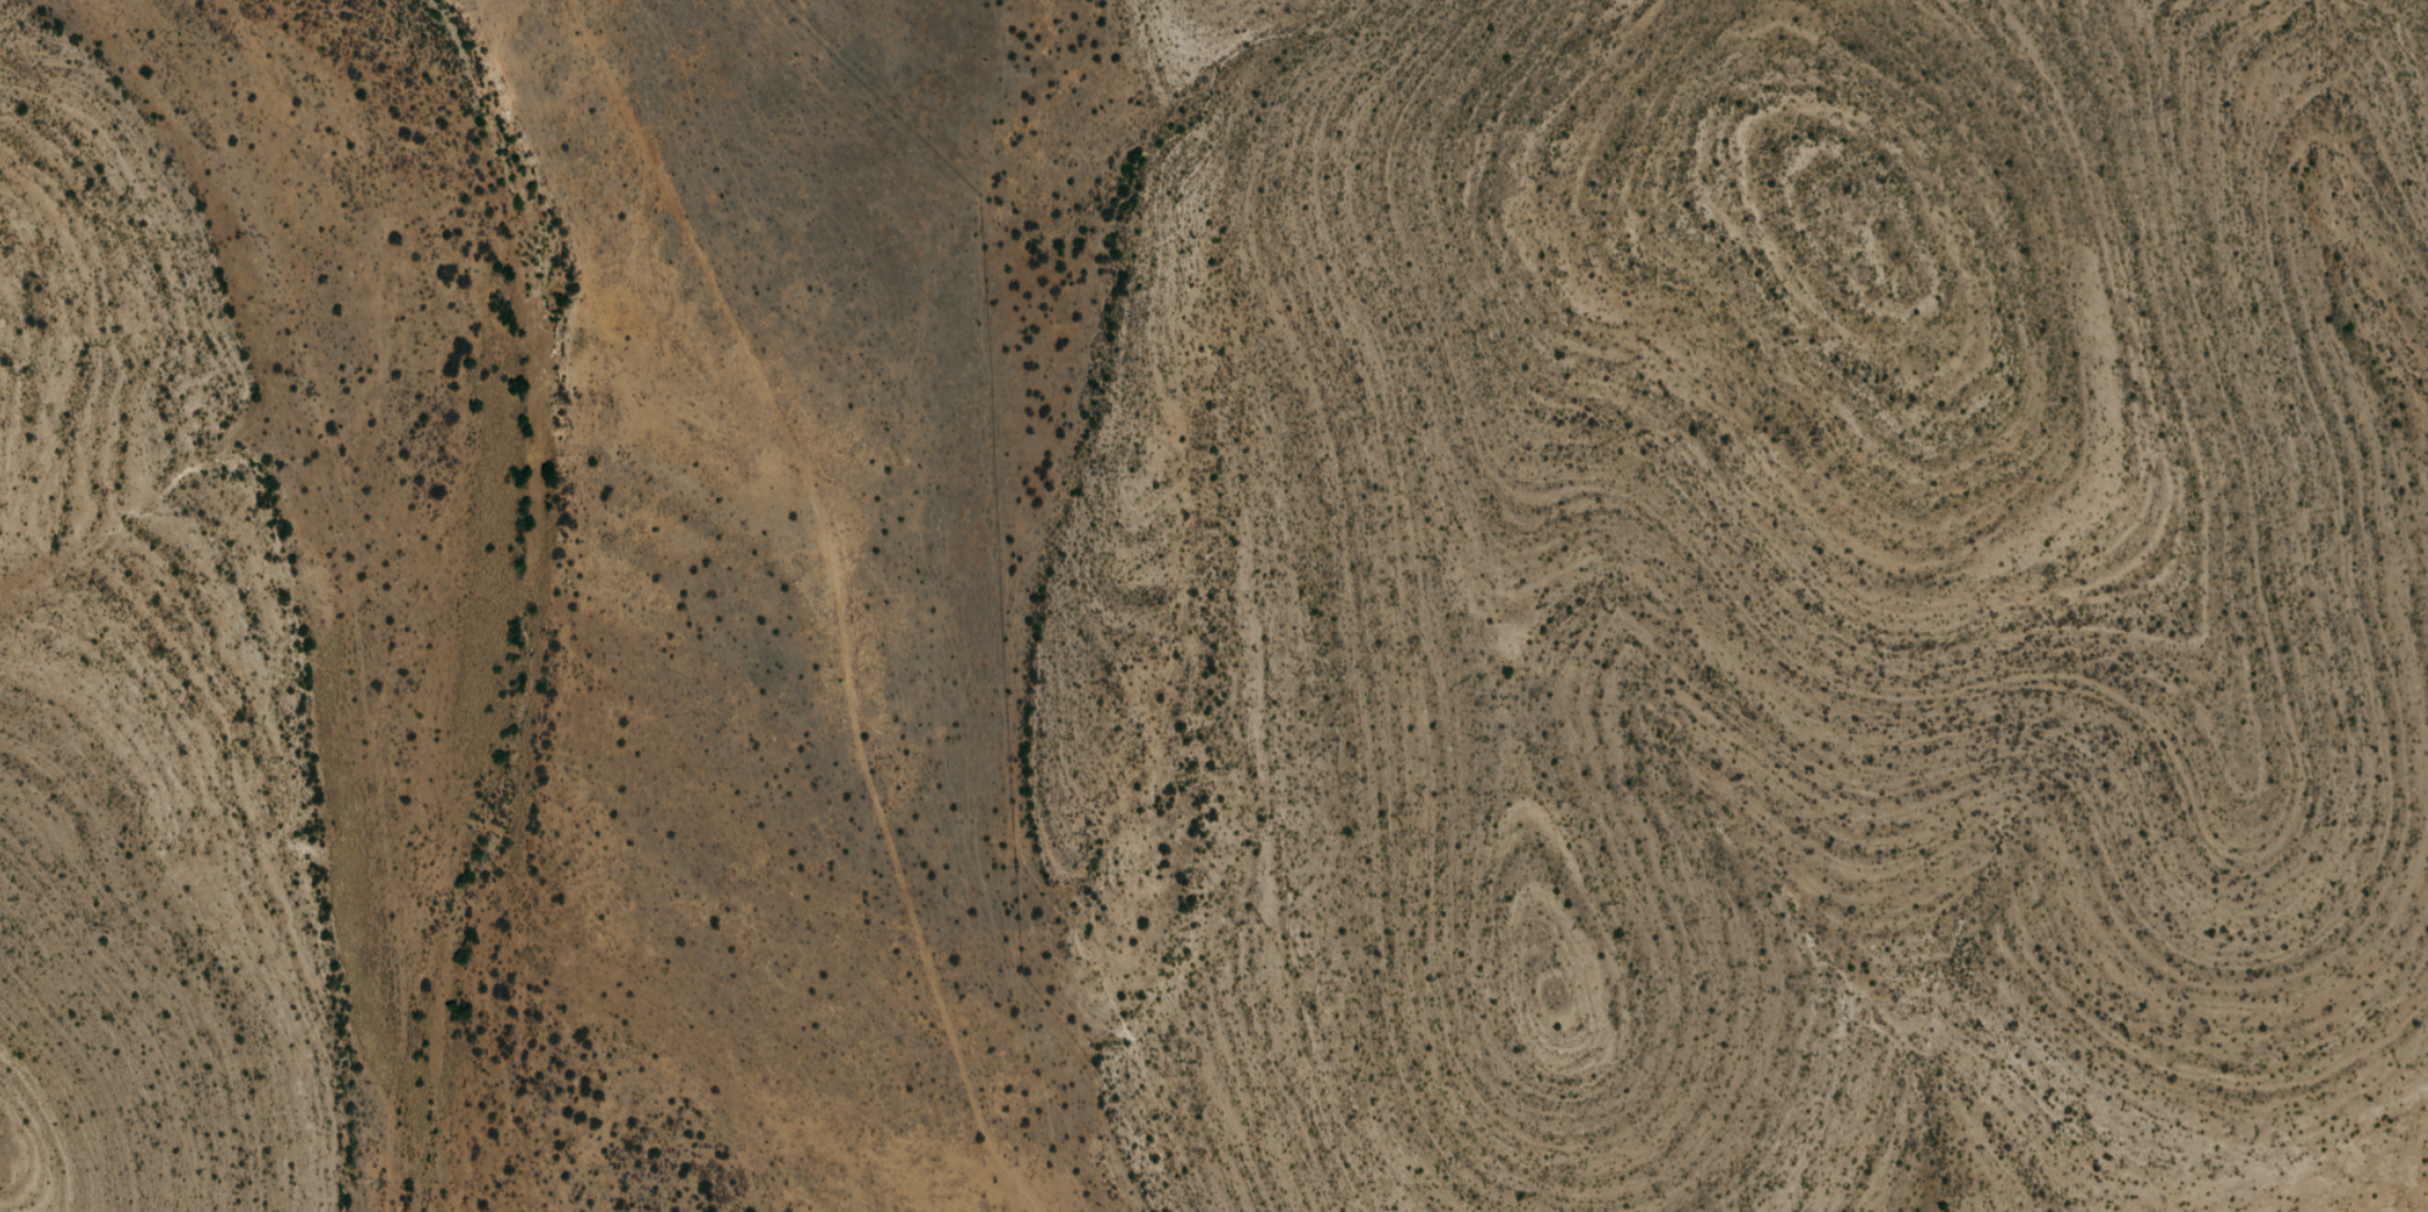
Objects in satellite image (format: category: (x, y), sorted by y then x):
road: (420, 573)

